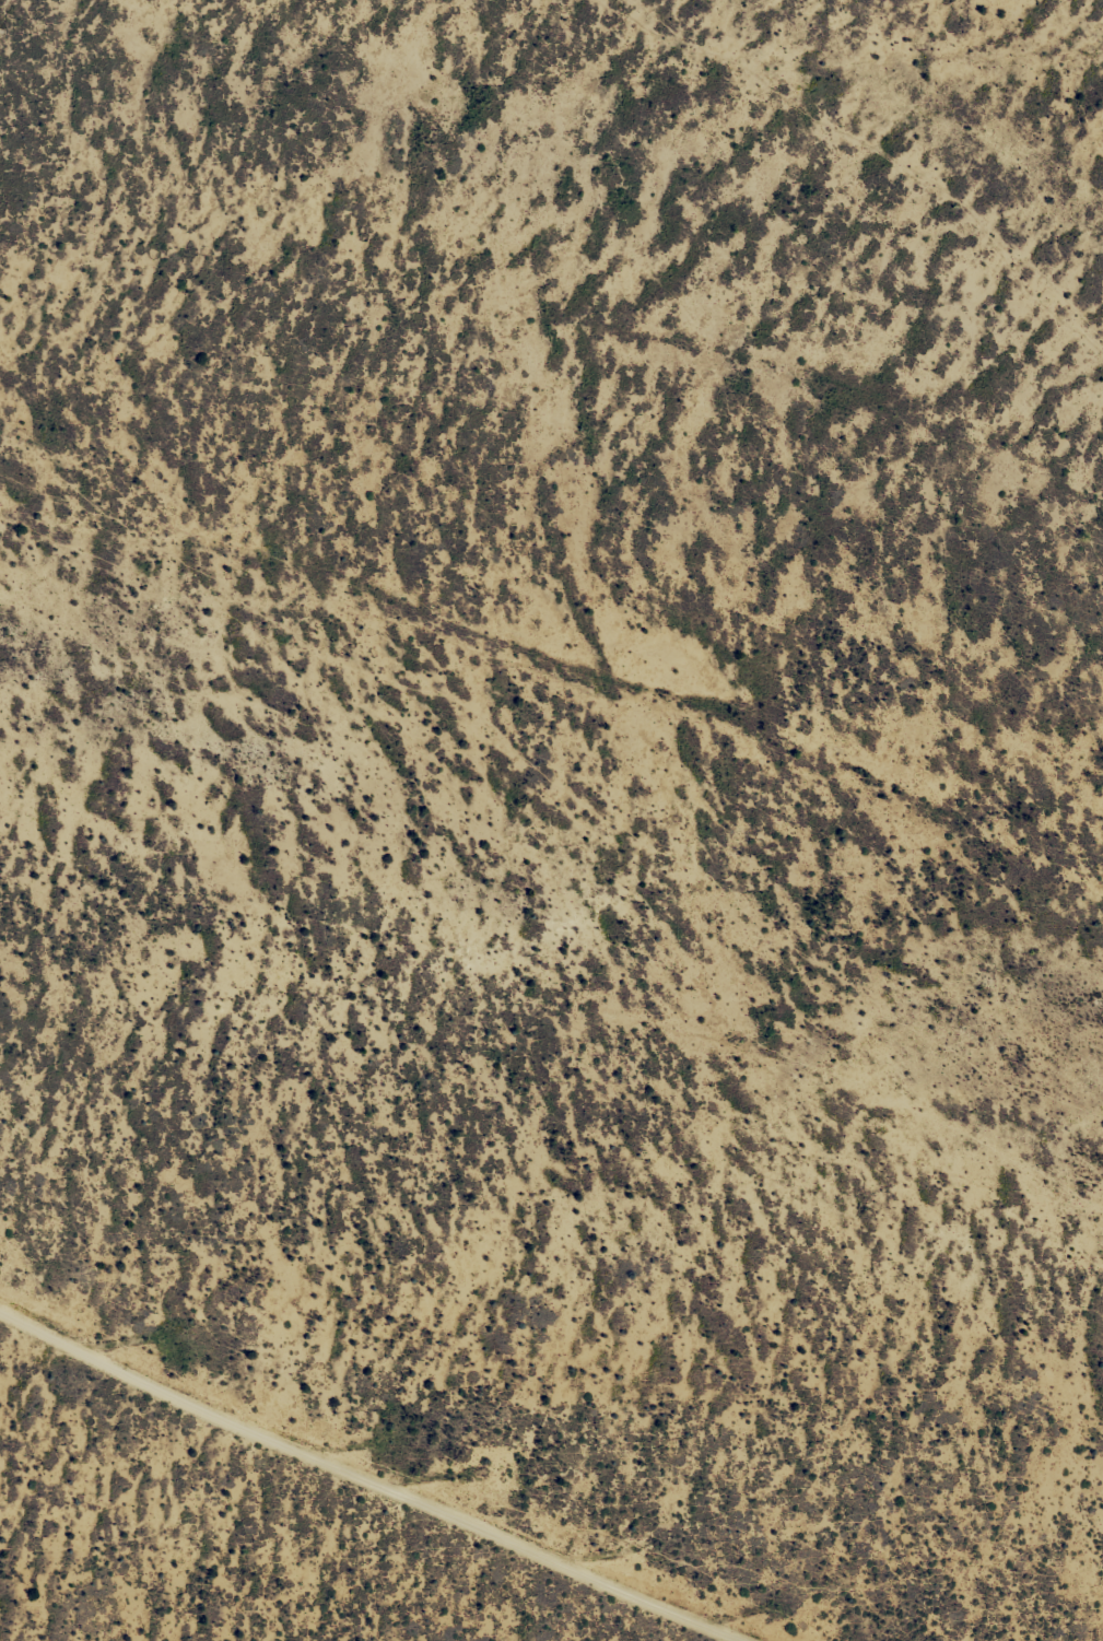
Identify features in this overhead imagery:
road: (375, 1475)

